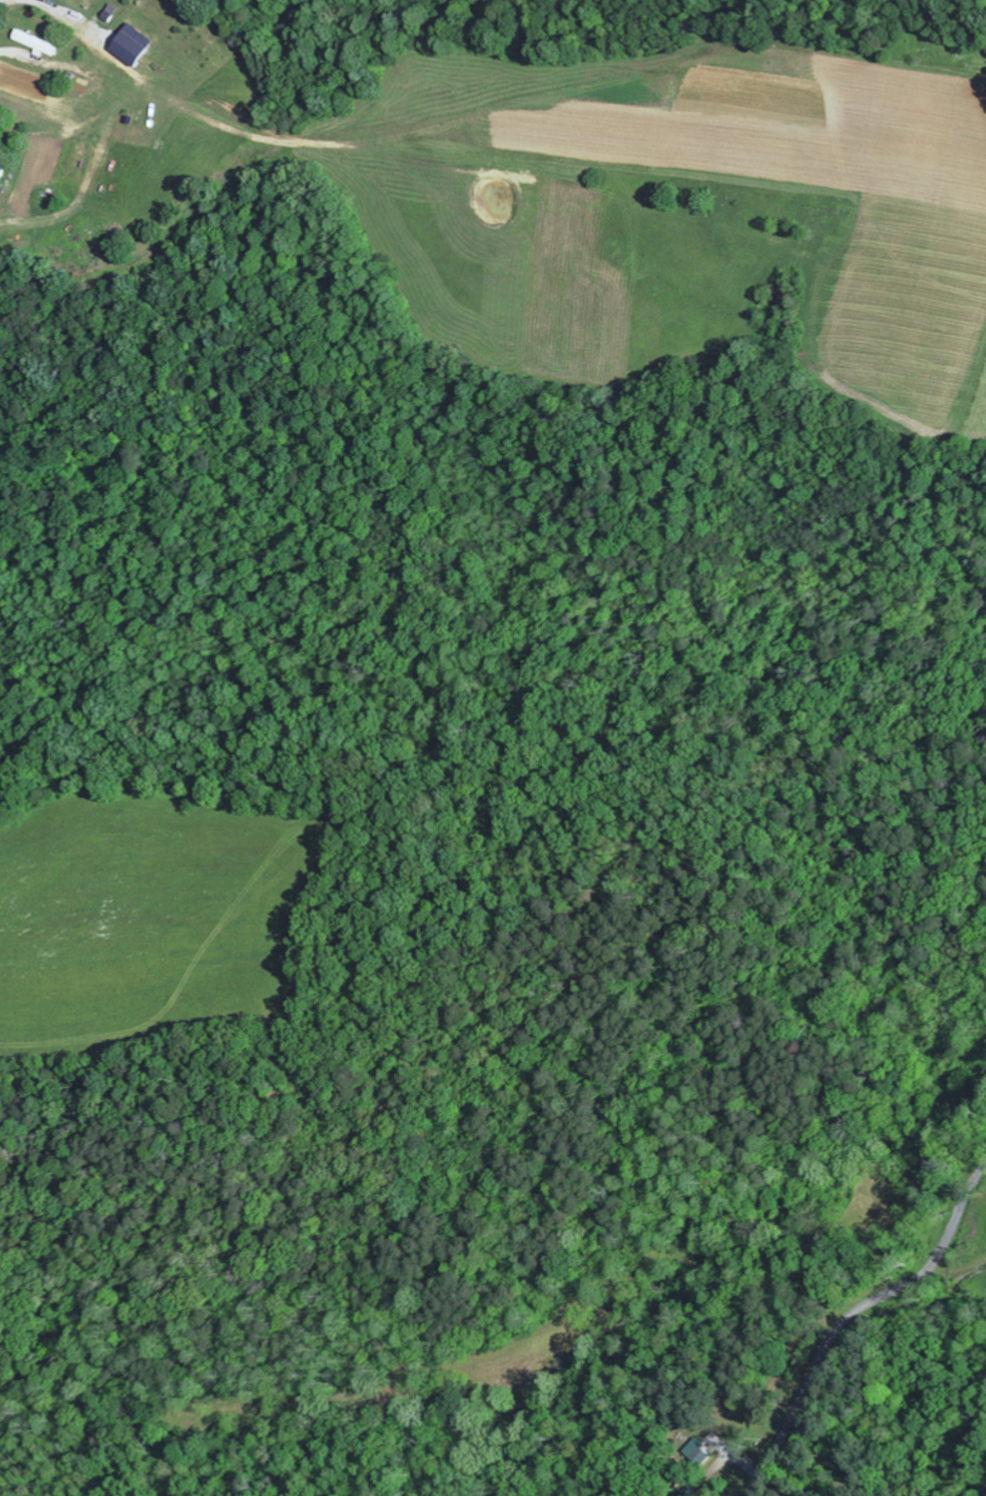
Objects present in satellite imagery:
building: (50, 0)
building: (115, 12)
building: (42, 42)
building: (139, 44)
building: (2, 174)
road: (854, 1317)

